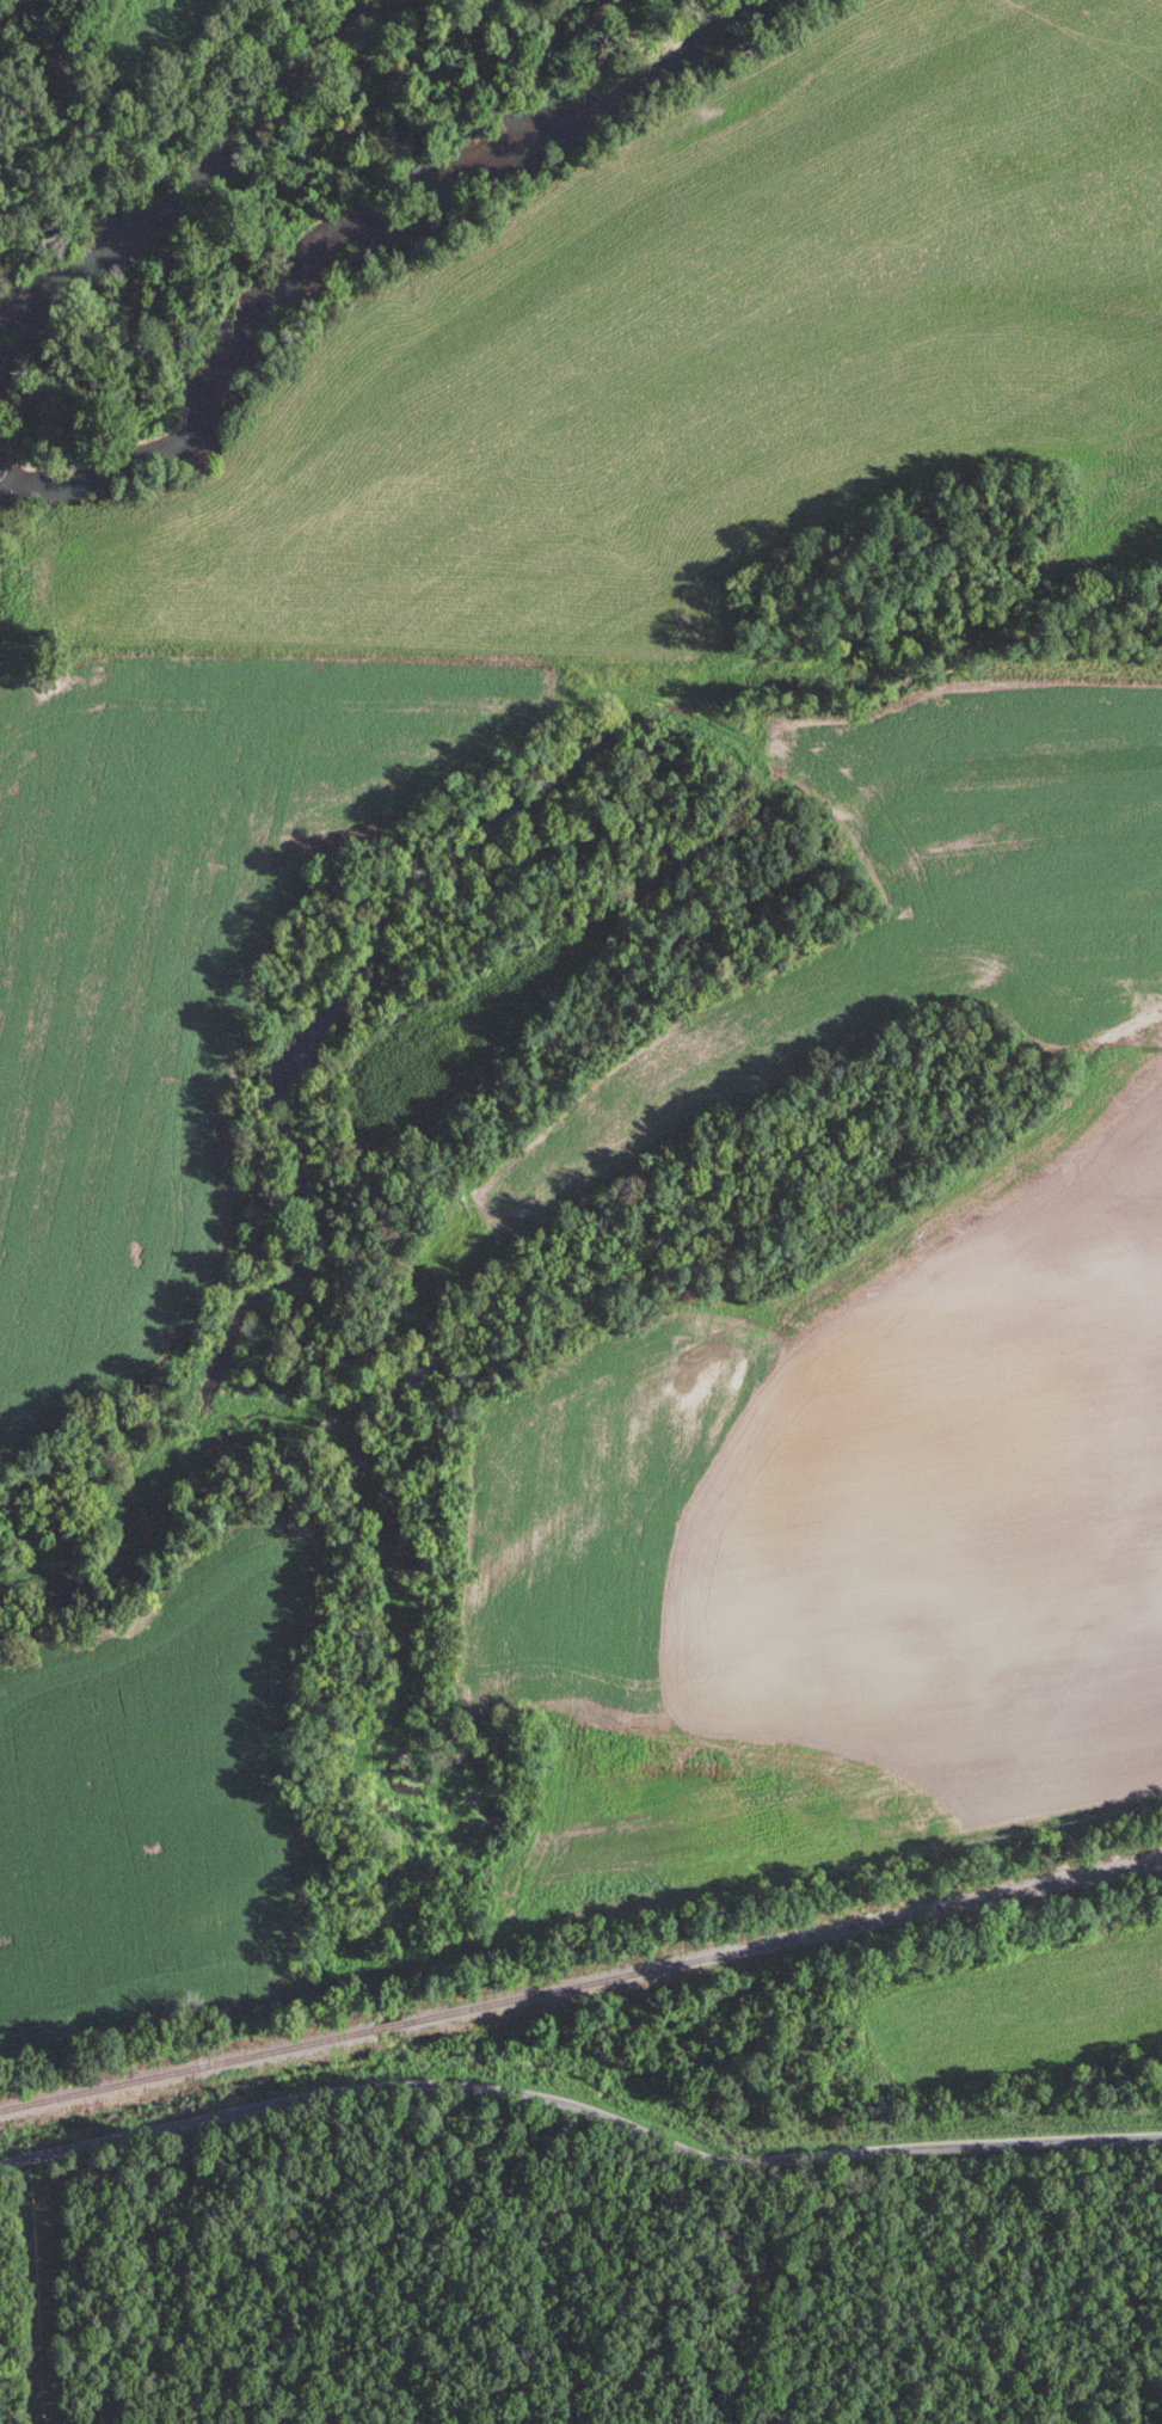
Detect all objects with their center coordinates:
railway: (580, 1982)
road: (579, 2104)

